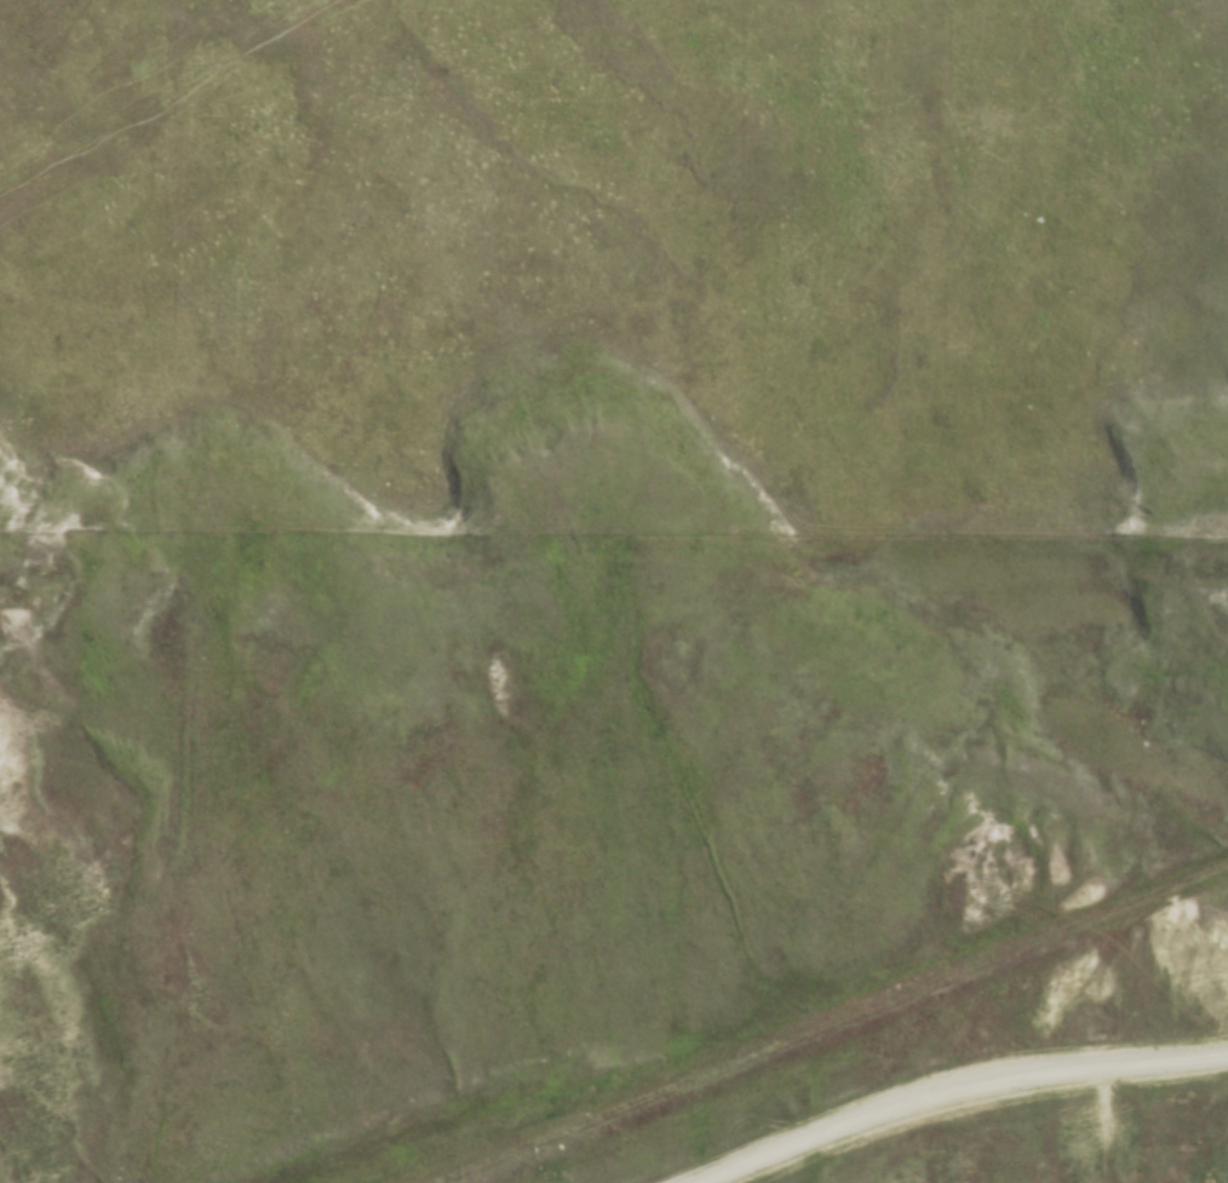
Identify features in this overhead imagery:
railway: (819, 1020)
road: (965, 1097)

